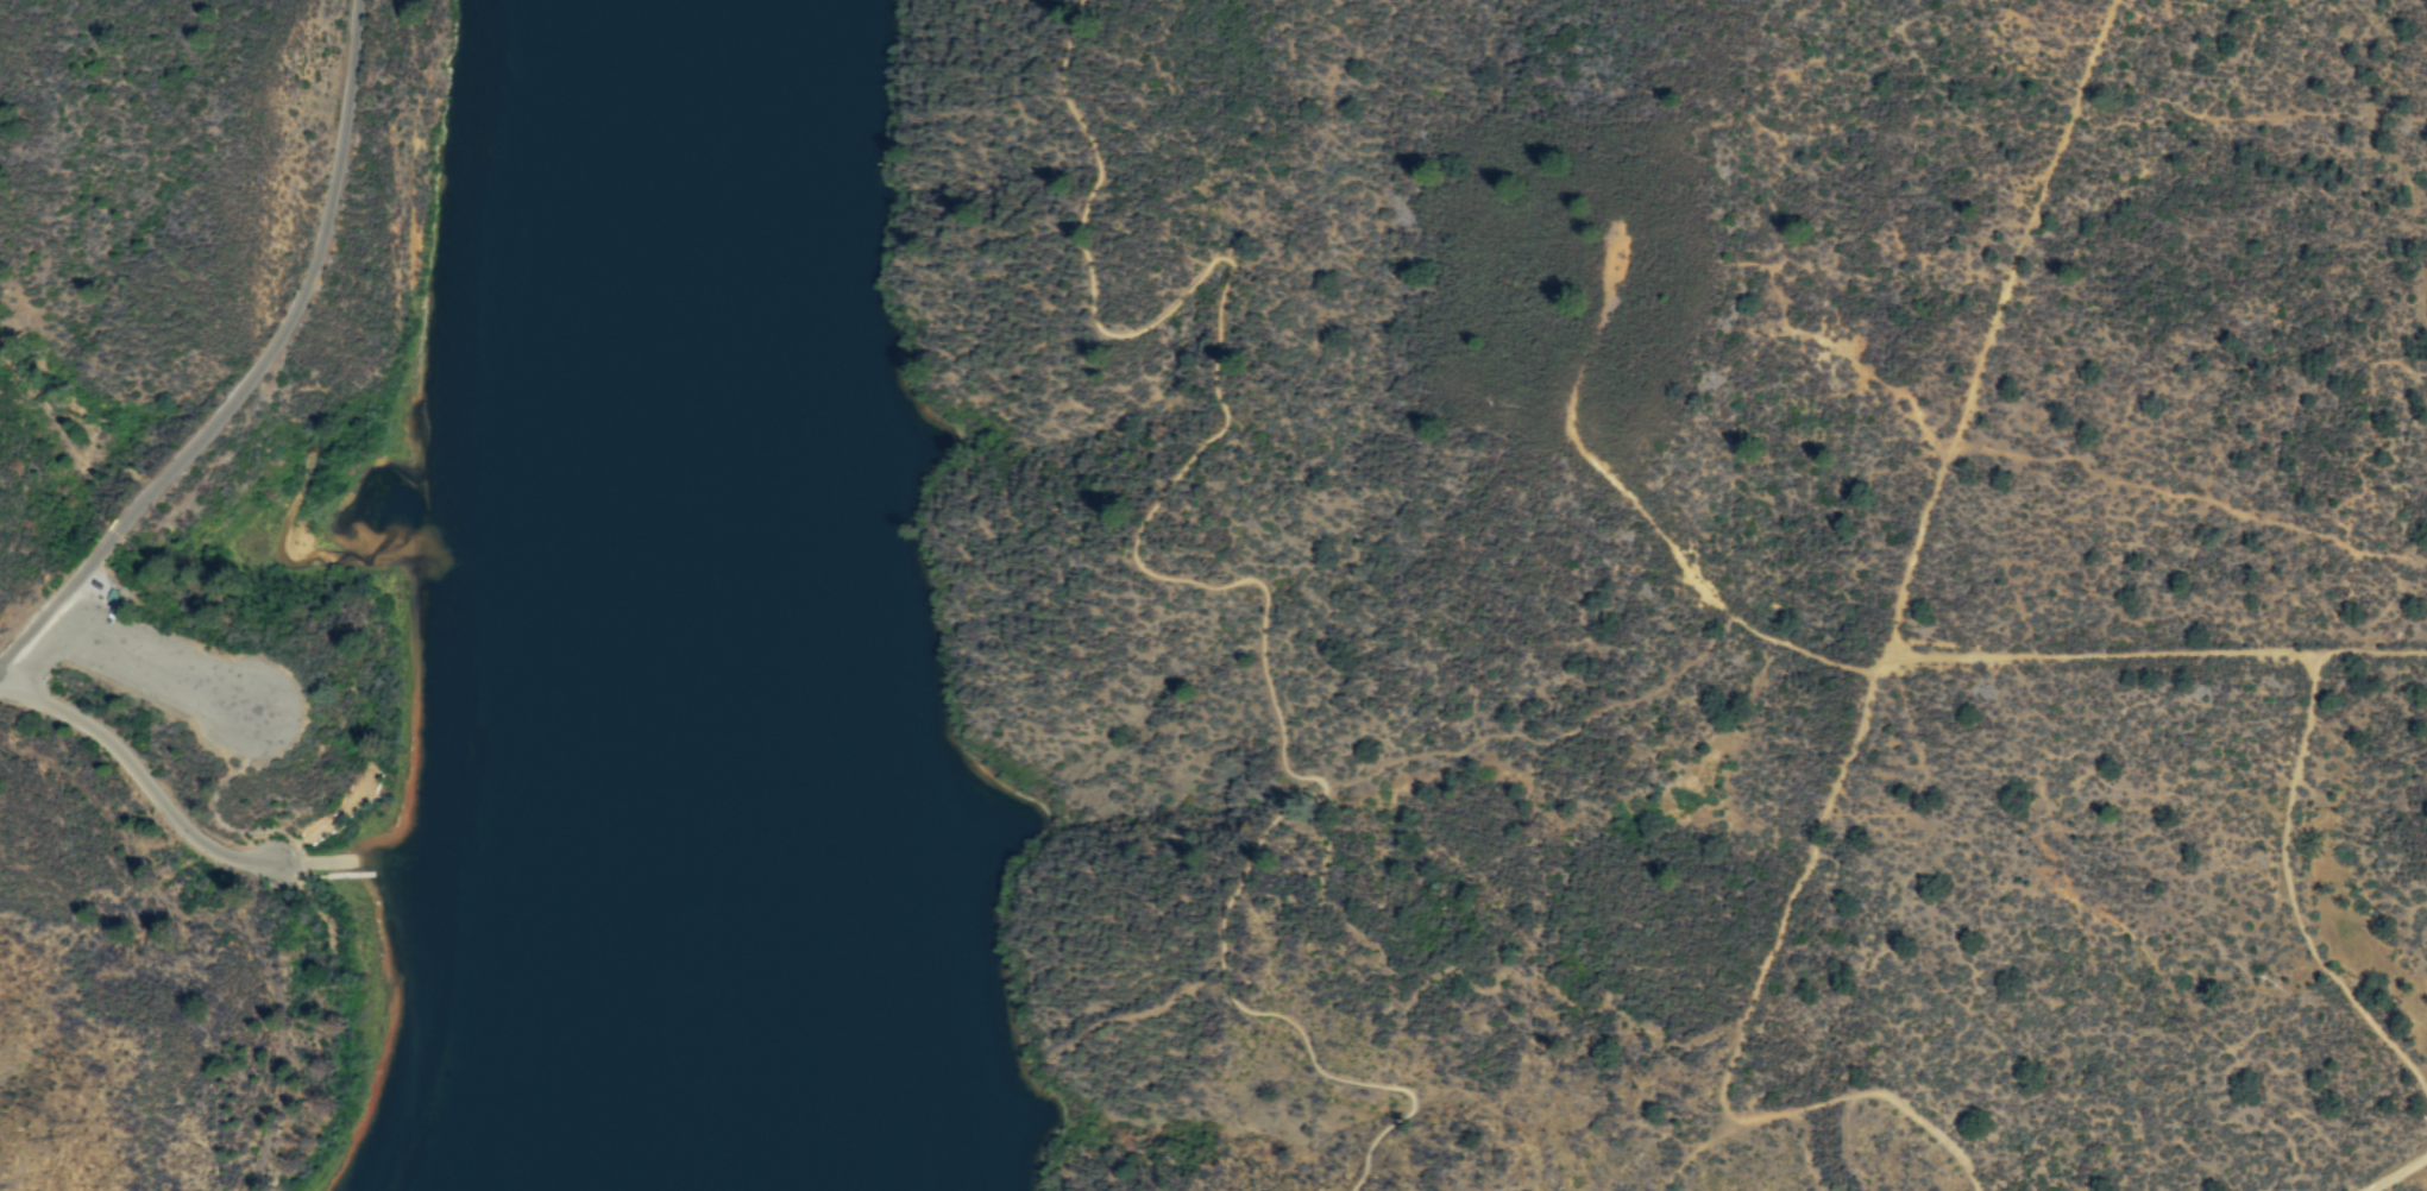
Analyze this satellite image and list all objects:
road: (1992, 323)
road: (260, 371)
road: (1640, 506)
road: (1164, 576)
river: (686, 594)
road: (124, 651)
road: (2295, 651)
road: (2026, 654)
road: (155, 794)
road: (1794, 886)
road: (2289, 893)
road: (1879, 1092)
road: (2394, 1173)

